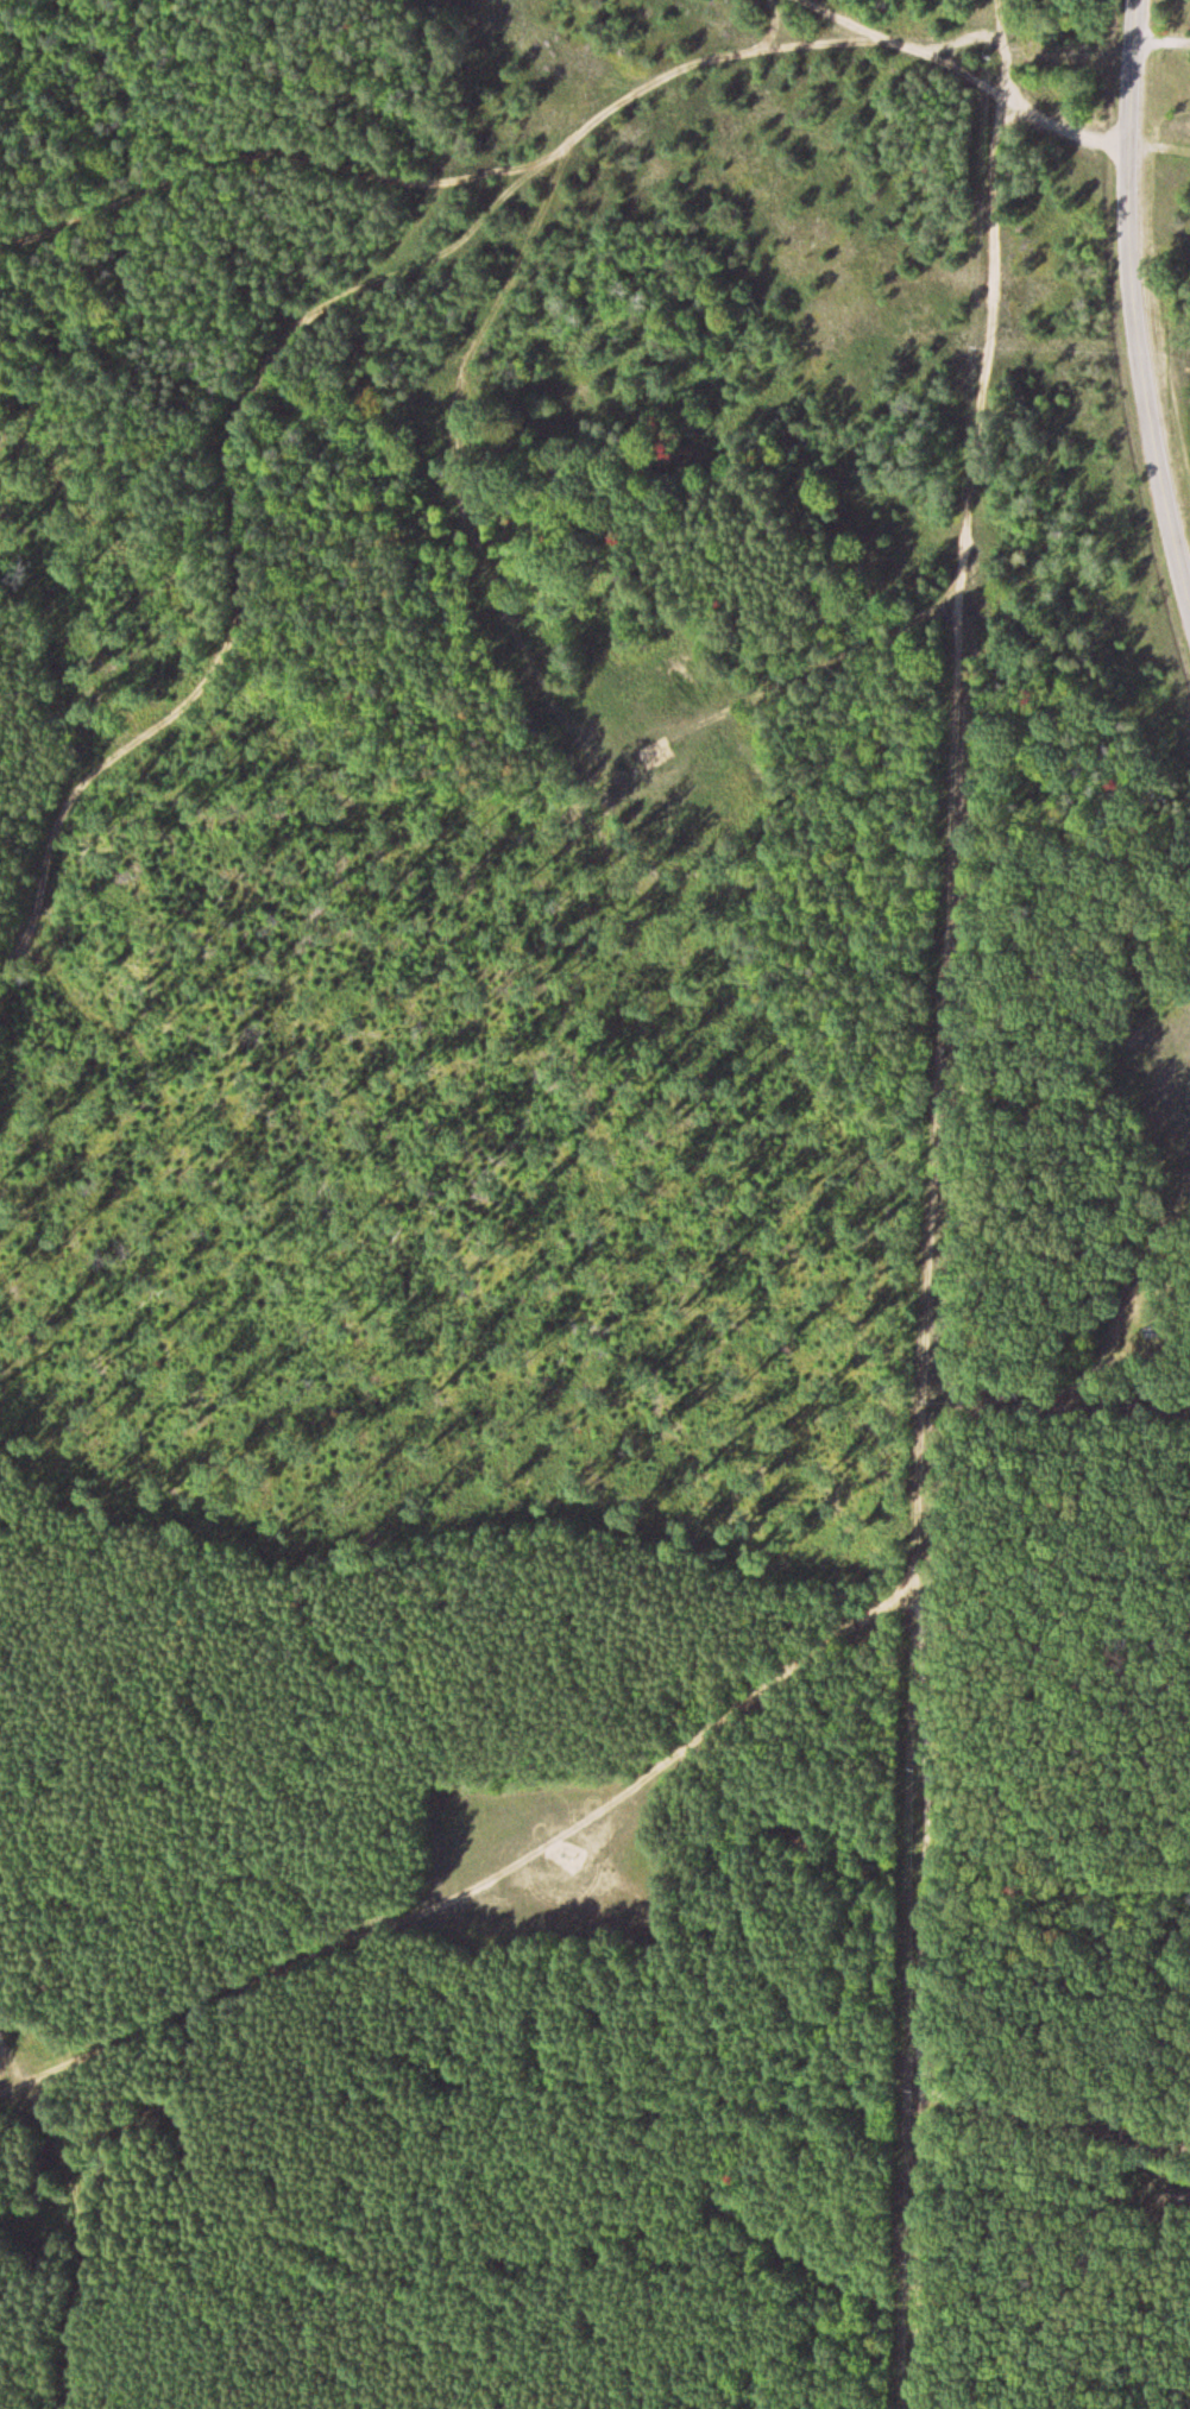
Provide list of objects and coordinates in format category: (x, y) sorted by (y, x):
road: (927, 46)
road: (1006, 46)
road: (459, 164)
road: (1164, 284)
road: (1139, 297)
road: (808, 658)
road: (925, 1287)
road: (77, 2219)

